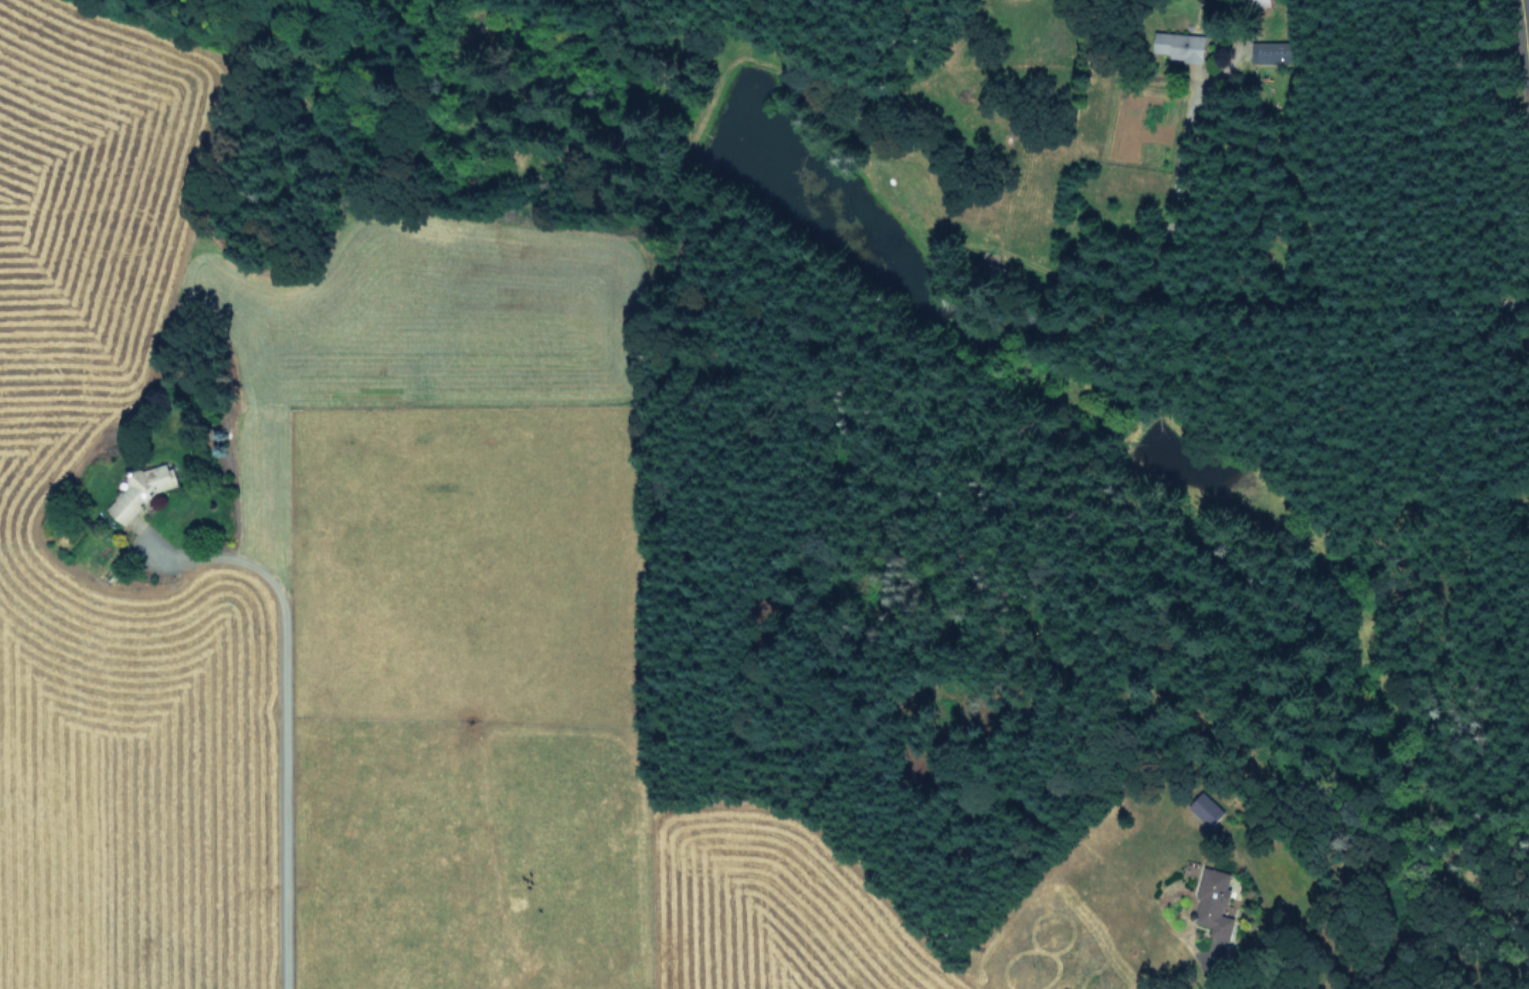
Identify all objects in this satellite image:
building: (1185, 46)
road: (1522, 49)
building: (1275, 51)
building: (144, 490)
crop: (333, 600)
road: (280, 717)
building: (1205, 808)
building: (1211, 901)
road: (1200, 977)

